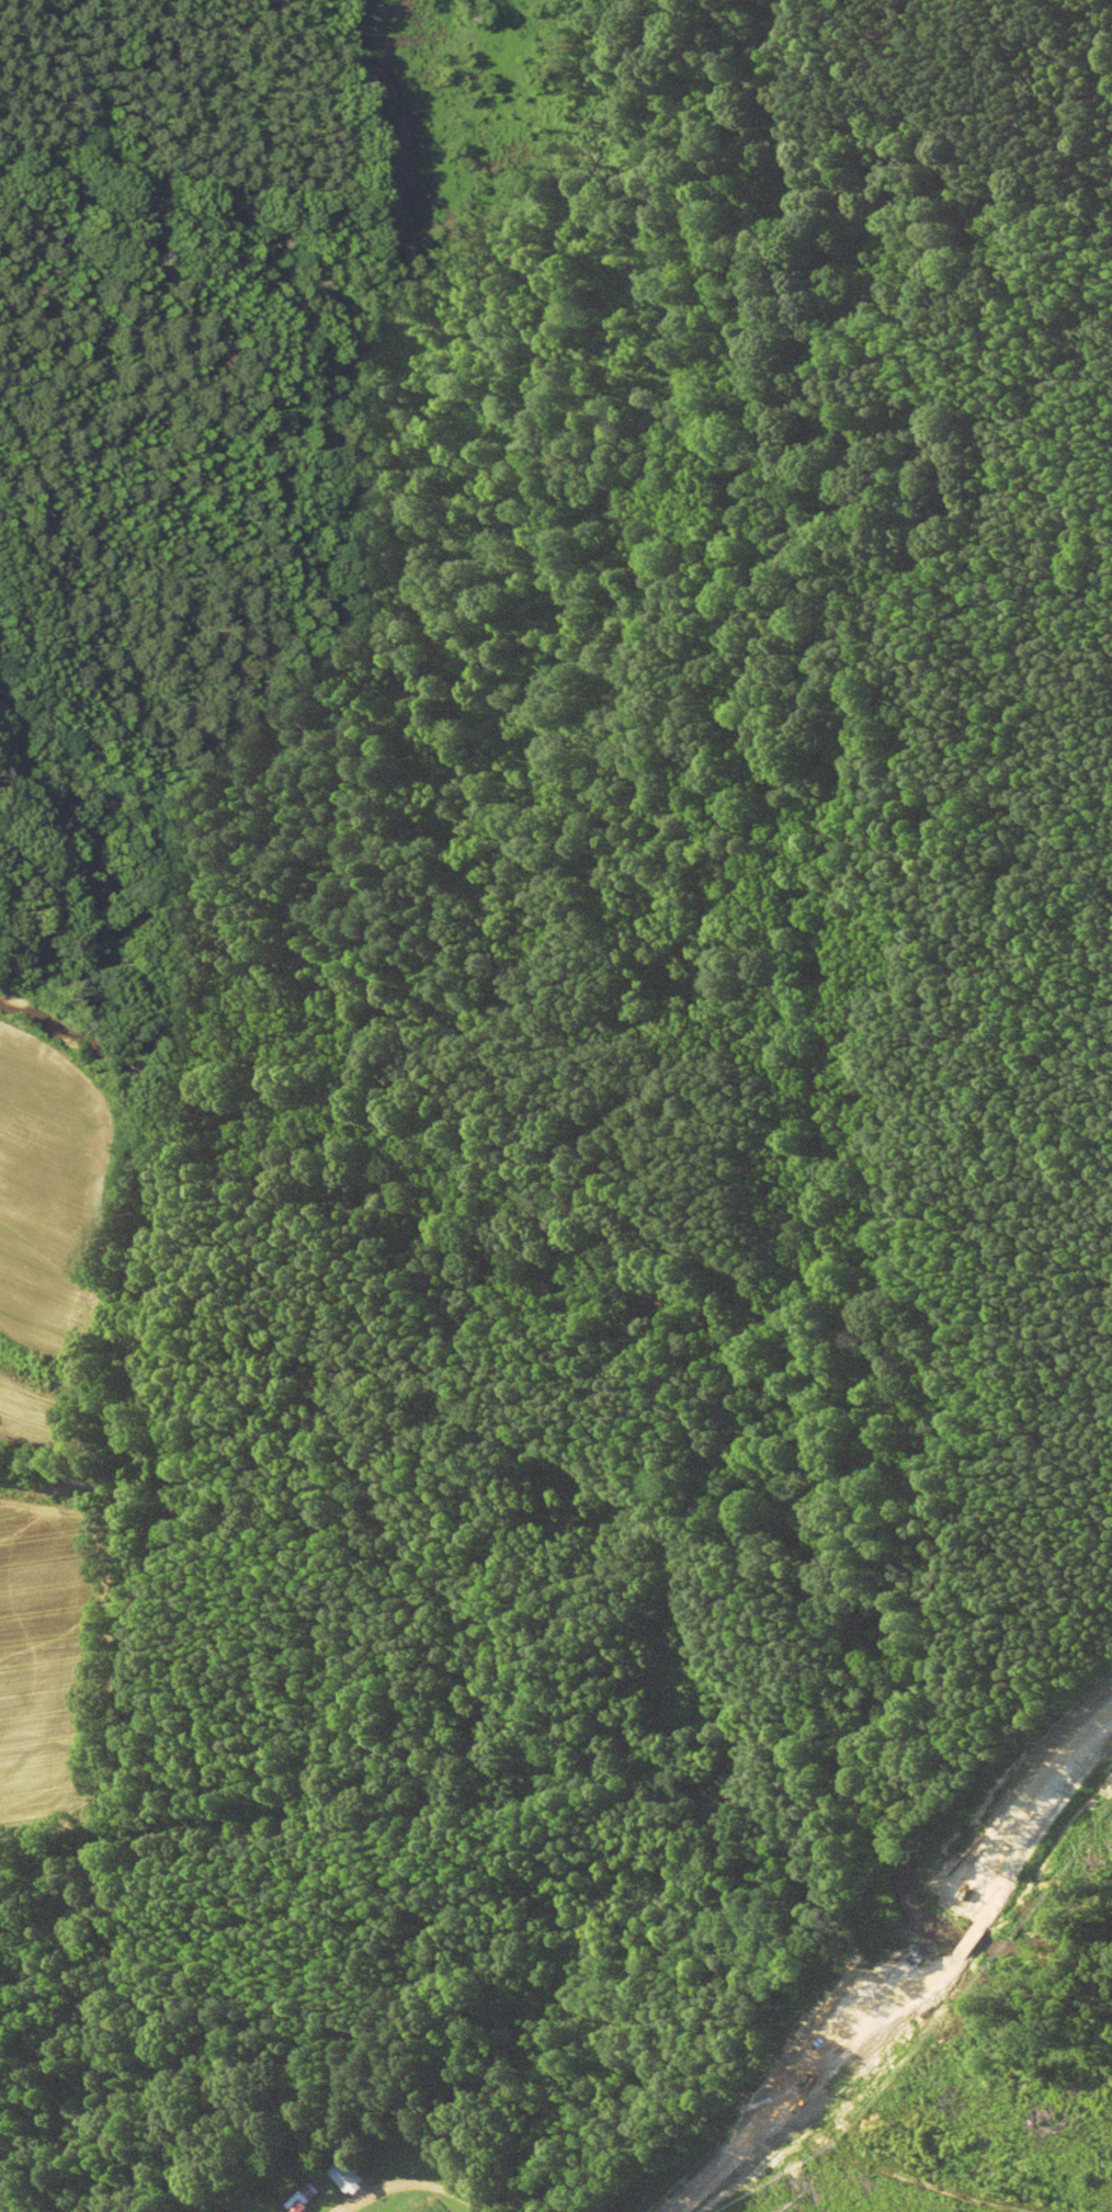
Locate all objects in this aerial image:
road: (873, 1981)
road: (435, 2168)
building: (345, 2177)
building: (302, 2199)
road: (2, 2210)

